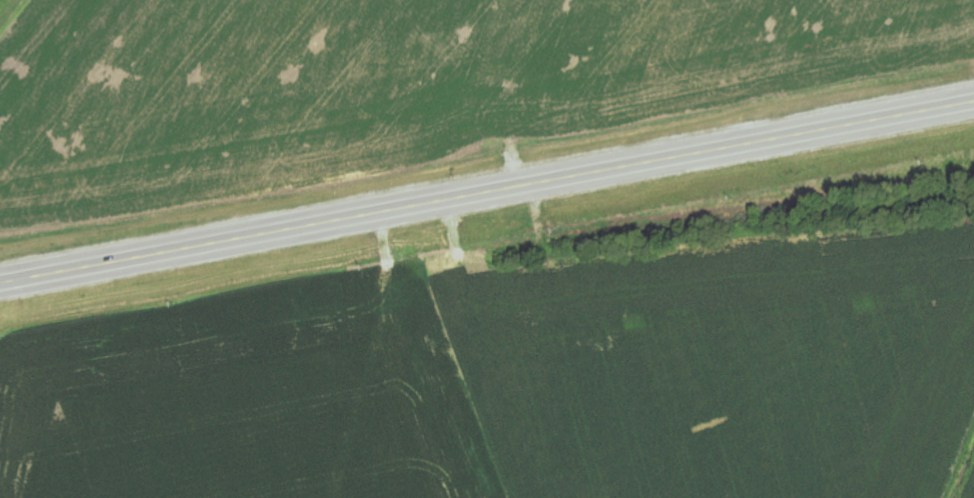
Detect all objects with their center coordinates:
road: (486, 168)

